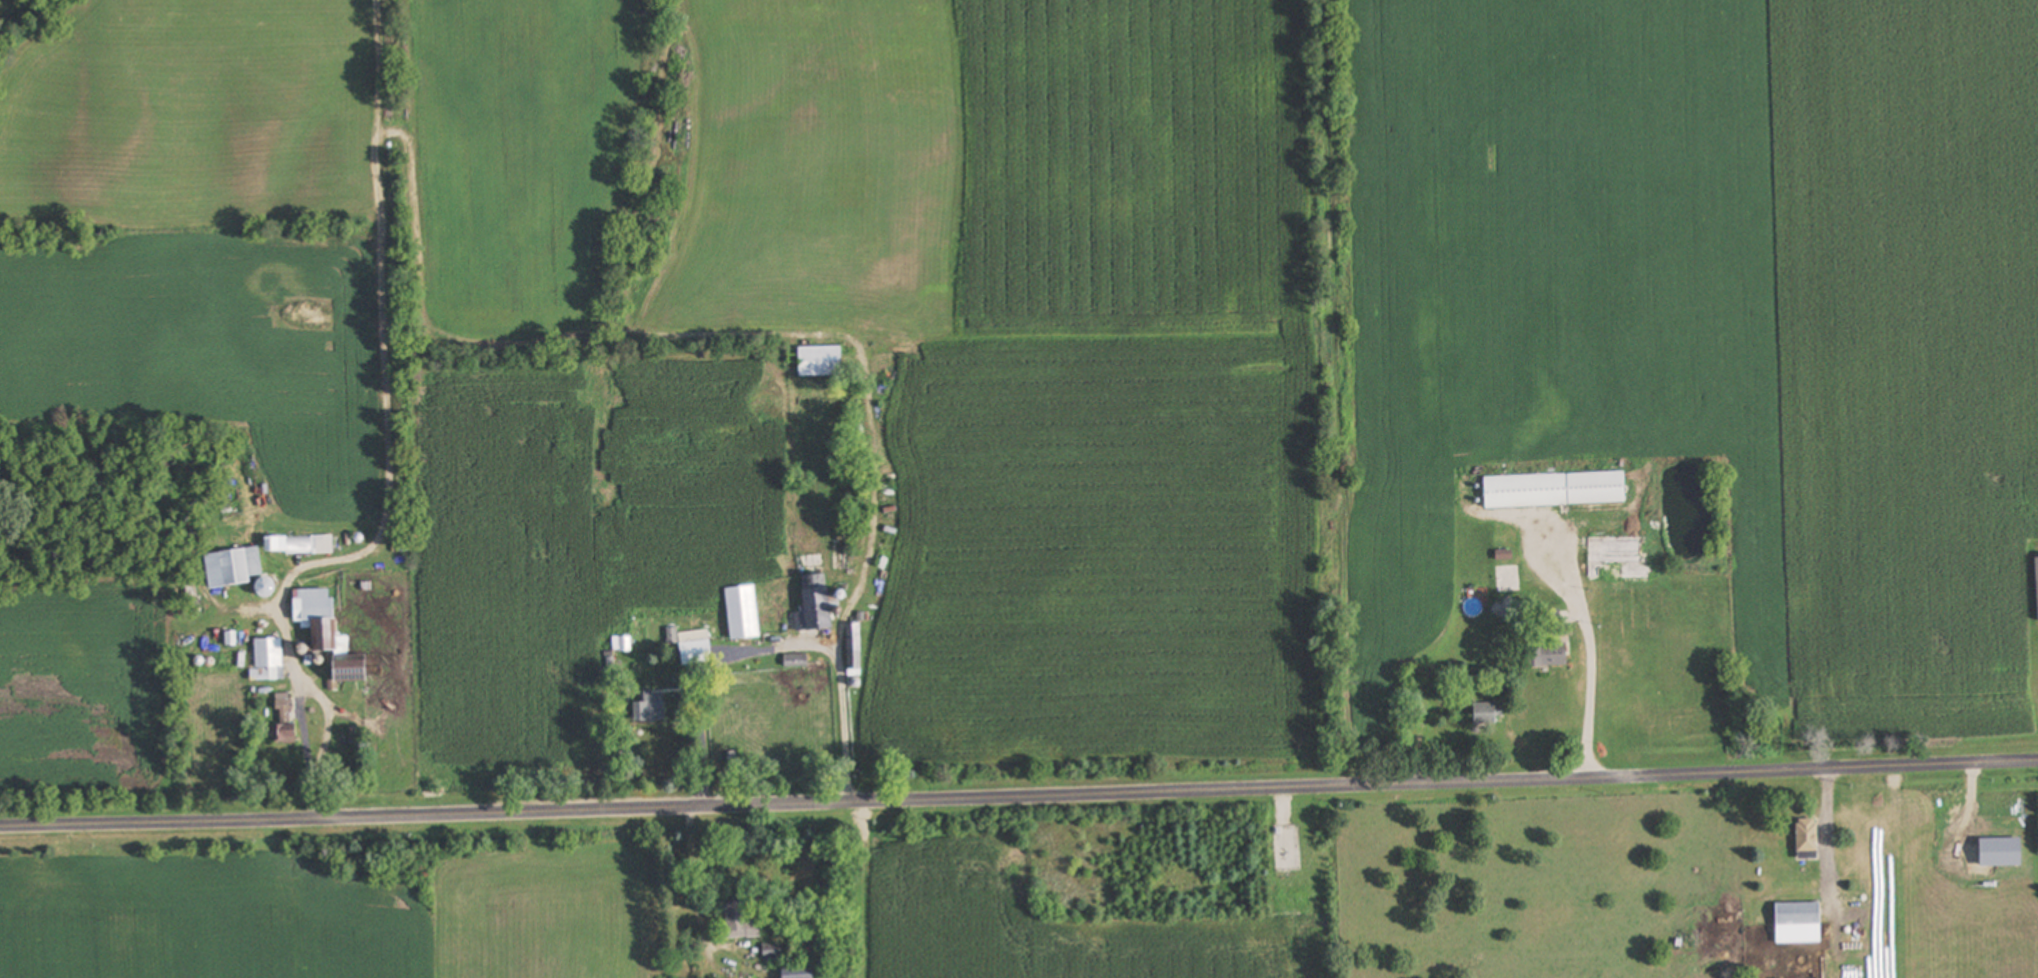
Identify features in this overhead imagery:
building: (823, 362)
building: (1558, 491)
building: (302, 546)
road: (370, 550)
building: (1625, 557)
building: (230, 570)
building: (816, 604)
building: (745, 612)
building: (320, 613)
building: (624, 643)
building: (694, 645)
building: (856, 650)
building: (1549, 655)
building: (272, 657)
building: (797, 660)
road: (1593, 660)
building: (355, 670)
building: (653, 706)
road: (843, 706)
building: (1488, 713)
building: (287, 721)
road: (329, 726)
road: (1019, 793)
building: (1810, 838)
building: (1801, 913)
building: (744, 920)
building: (775, 952)
building: (801, 971)

